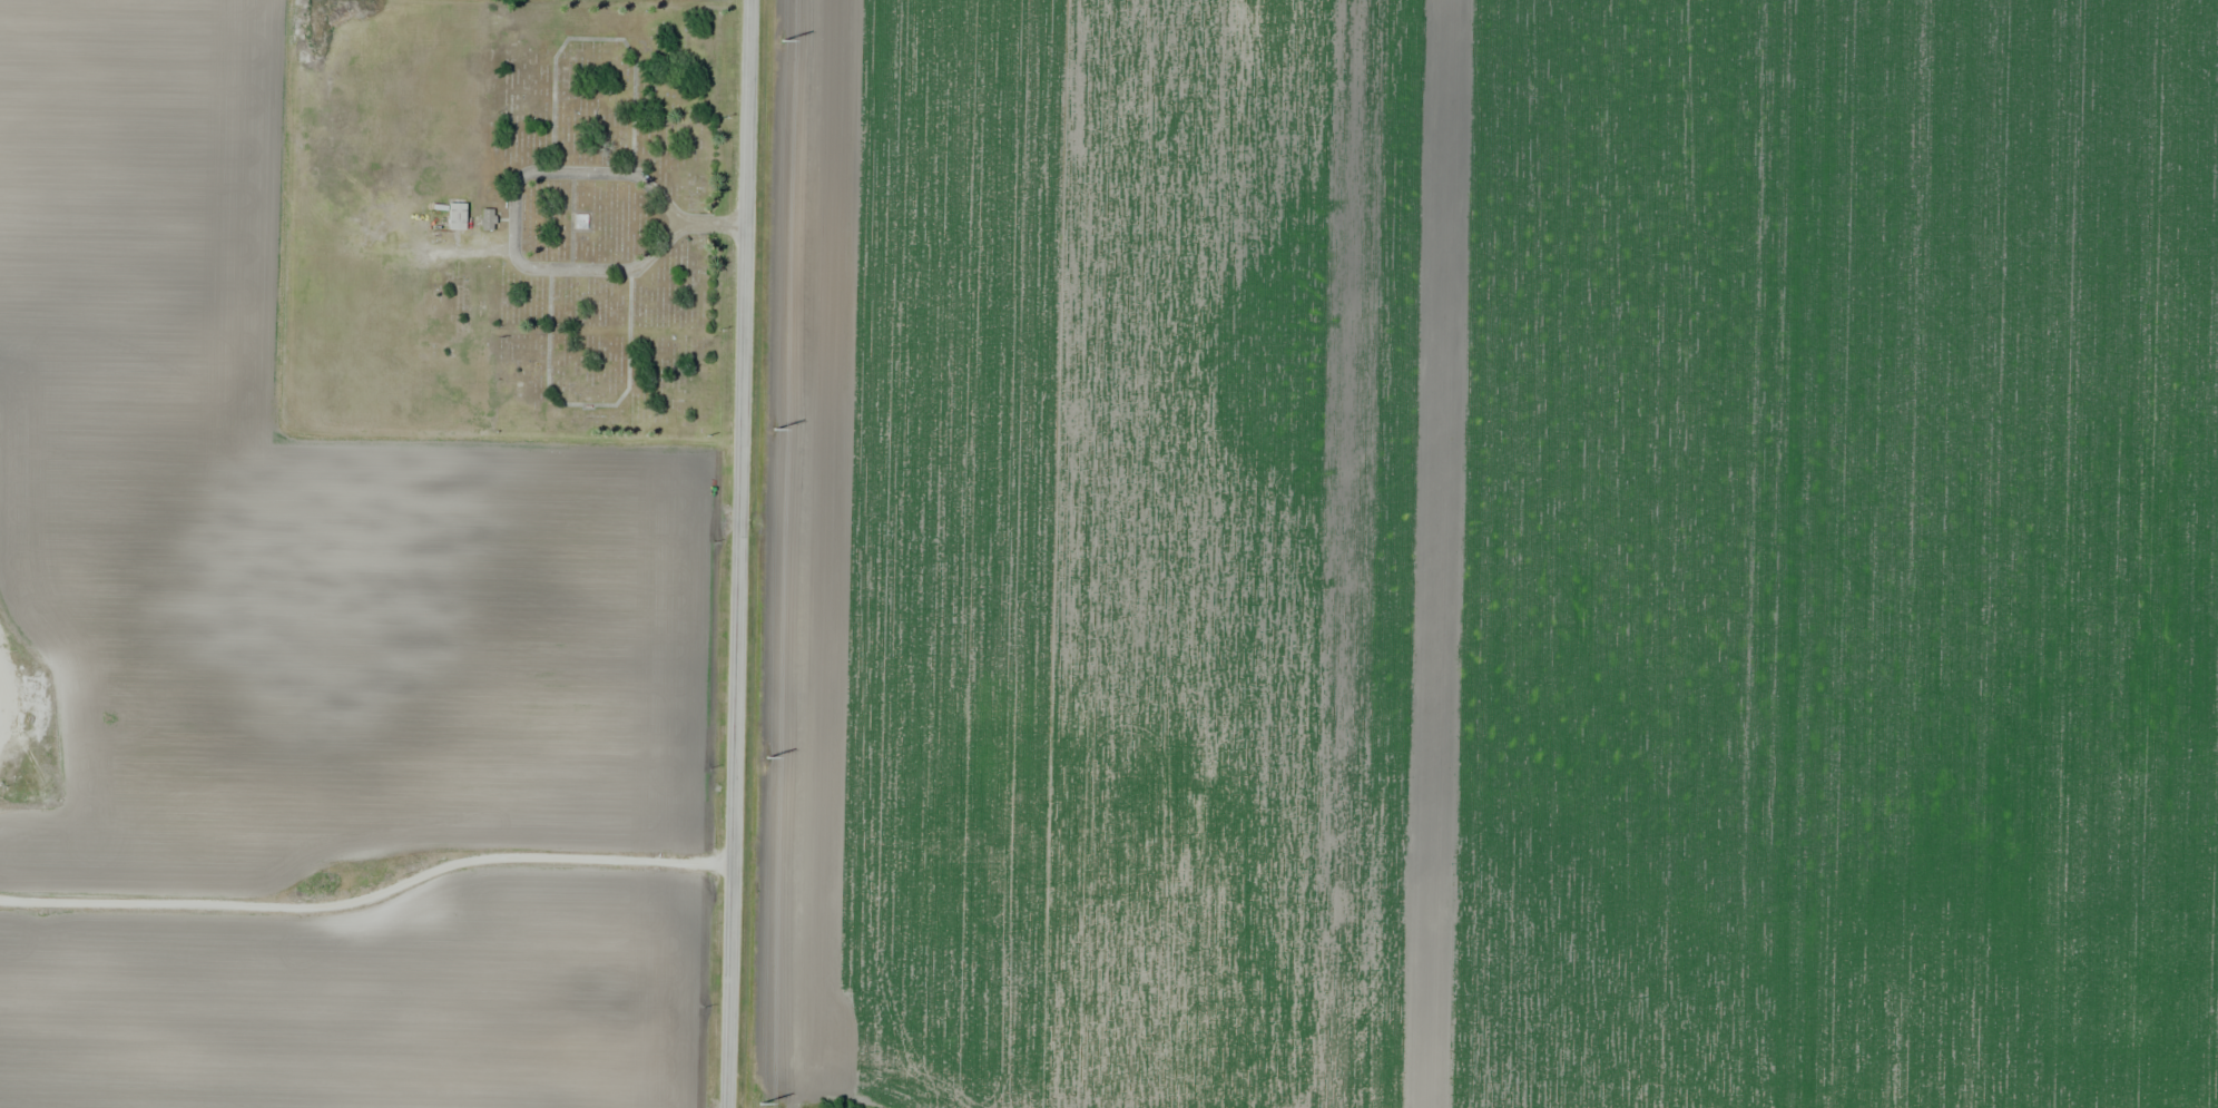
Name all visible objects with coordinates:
power tower: (781, 41)
building: (455, 215)
building: (485, 218)
road: (513, 218)
park: (609, 218)
building: (580, 219)
road: (713, 224)
power tower: (773, 429)
road: (737, 553)
road: (4, 686)
power tower: (766, 757)
road: (369, 899)
power tower: (758, 1104)

